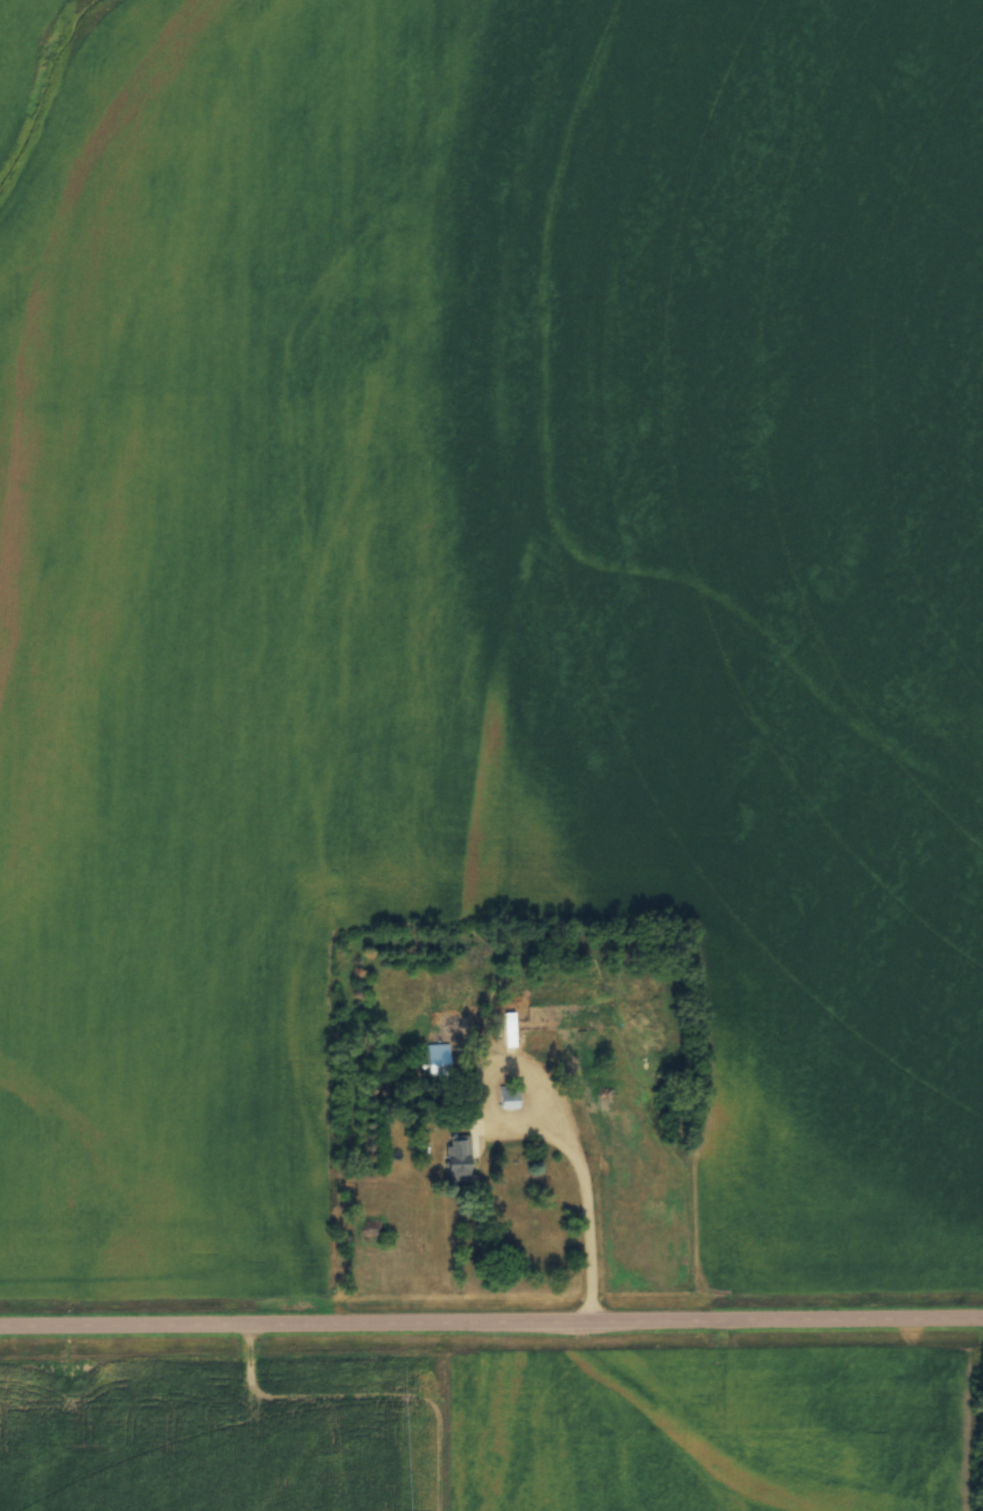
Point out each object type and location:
building: (507, 1026)
building: (436, 1057)
building: (510, 1094)
building: (457, 1154)
road: (587, 1206)
road: (491, 1325)

